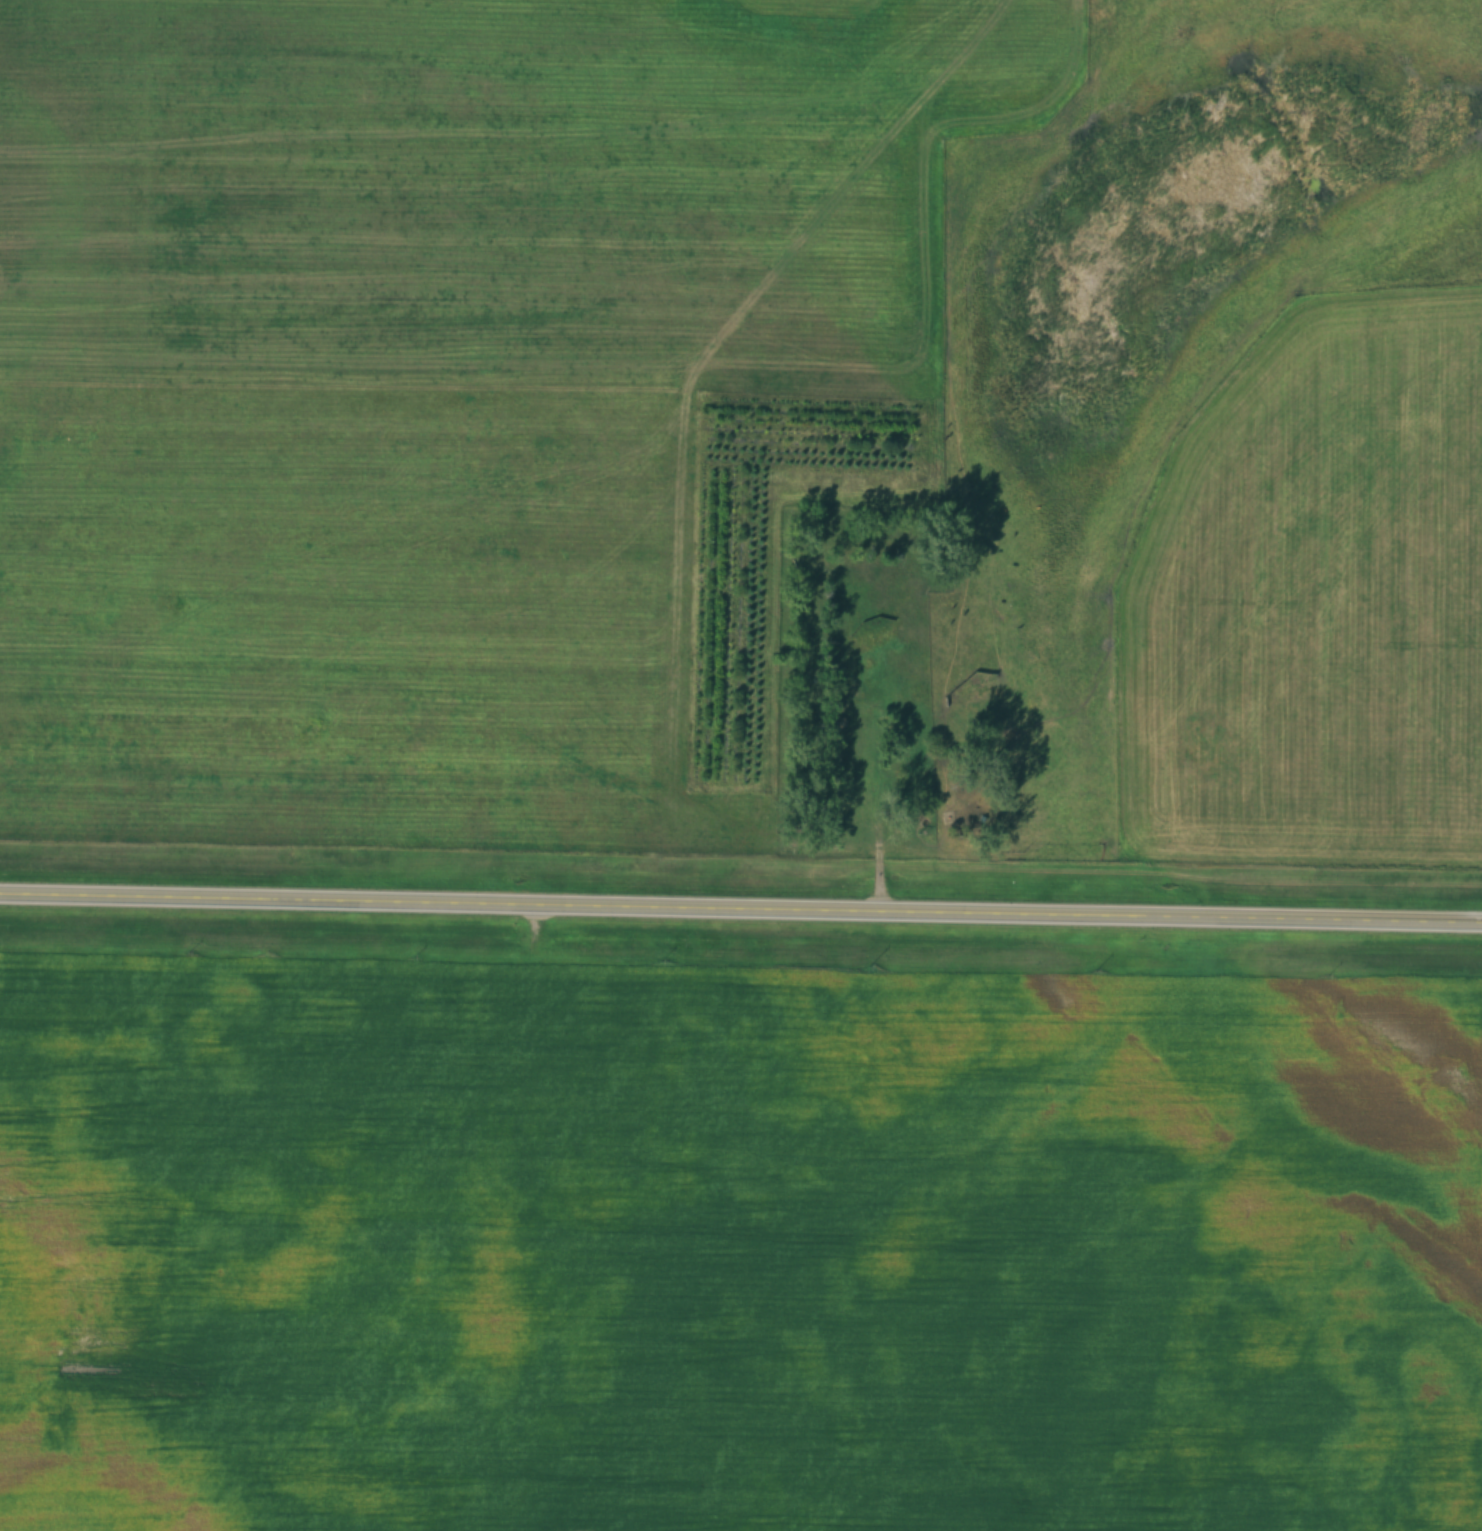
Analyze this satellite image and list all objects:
building: (962, 697)
road: (741, 910)

